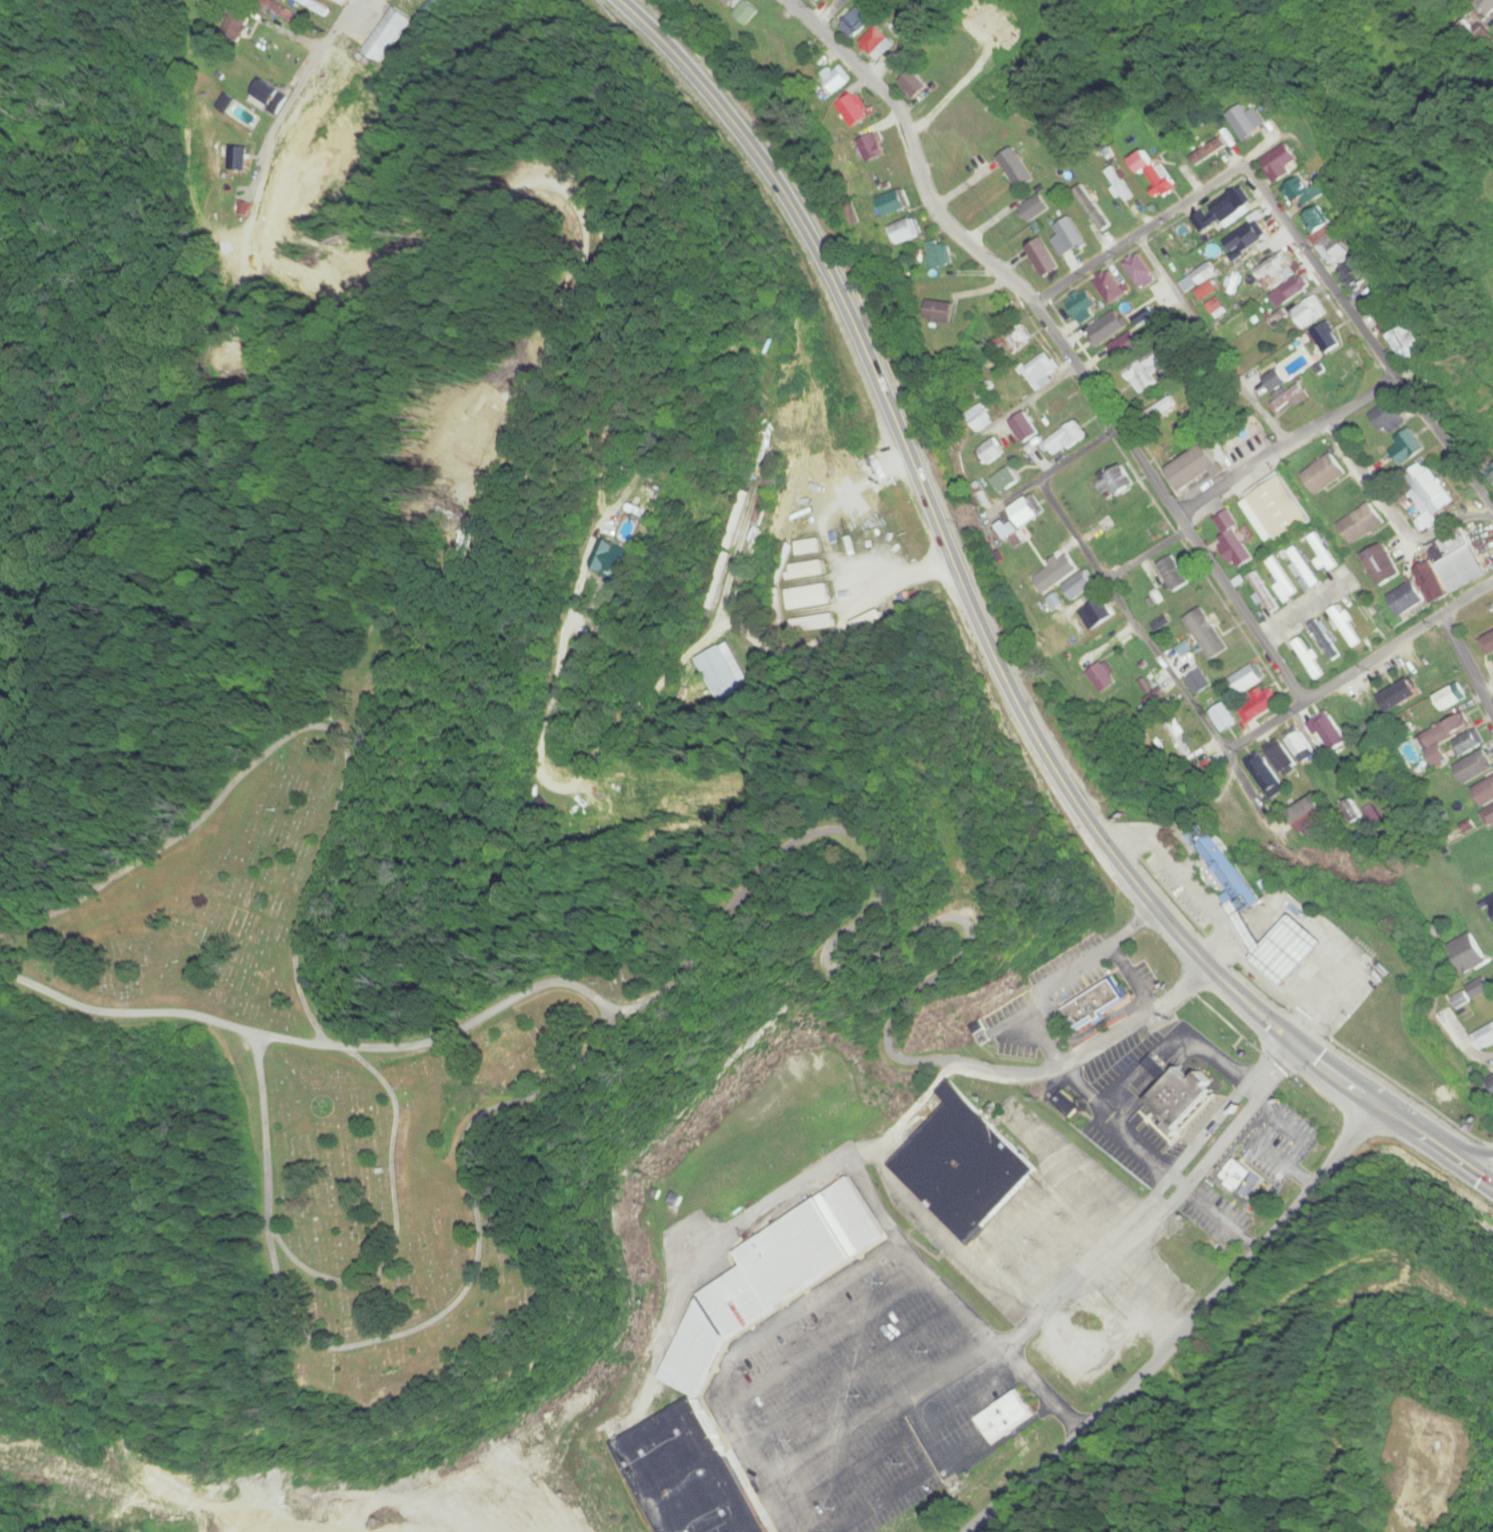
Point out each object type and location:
building: (1486, 5)
building: (855, 23)
building: (386, 34)
building: (877, 44)
building: (281, 56)
building: (913, 85)
road: (300, 89)
building: (269, 92)
building: (1248, 120)
building: (1206, 146)
building: (1281, 163)
building: (1016, 168)
building: (1156, 173)
building: (1120, 184)
building: (1295, 192)
building: (1035, 208)
building: (1224, 212)
building: (1320, 223)
building: (901, 232)
road: (1140, 235)
building: (1068, 236)
building: (1248, 237)
building: (1044, 258)
building: (1278, 270)
building: (1143, 271)
building: (1353, 273)
building: (1200, 278)
building: (1114, 286)
building: (1290, 293)
building: (1085, 300)
building: (1311, 313)
building: (1110, 329)
road: (1370, 335)
building: (1331, 337)
building: (1019, 338)
road: (1059, 340)
road: (1210, 343)
building: (1406, 343)
building: (1127, 346)
building: (1041, 369)
building: (1152, 372)
road: (1035, 396)
building: (1293, 400)
building: (1057, 406)
building: (979, 418)
building: (1389, 418)
building: (1024, 428)
building: (1241, 433)
building: (1064, 439)
road: (1287, 444)
building: (1408, 447)
building: (991, 451)
road: (1079, 455)
building: (1194, 467)
building: (1491, 471)
building: (1324, 474)
building: (1006, 479)
building: (1113, 485)
building: (1434, 491)
road: (1013, 499)
building: (1276, 511)
building: (1027, 512)
road: (1389, 519)
building: (1360, 523)
building: (1005, 531)
building: (1235, 542)
building: (809, 548)
building: (1325, 552)
road: (1148, 557)
building: (613, 559)
building: (1457, 561)
building: (1381, 565)
building: (1306, 567)
building: (806, 570)
building: (1056, 574)
building: (1175, 575)
building: (1284, 580)
building: (1429, 584)
building: (1079, 585)
building: (1265, 593)
building: (807, 597)
building: (1408, 598)
building: (1367, 612)
road: (1301, 615)
building: (1090, 616)
building: (869, 621)
building: (810, 624)
building: (1347, 626)
building: (1327, 640)
building: (1211, 642)
road: (989, 644)
building: (1488, 644)
building: (1309, 658)
road: (1466, 660)
road: (1160, 661)
building: (725, 672)
building: (1101, 677)
road: (1349, 677)
building: (1247, 679)
building: (1198, 680)
building: (1401, 695)
building: (1451, 697)
building: (1260, 708)
building: (1225, 717)
building: (1331, 731)
building: (1444, 736)
building: (1178, 739)
building: (1468, 743)
building: (1301, 744)
building: (1282, 761)
building: (1475, 767)
building: (1266, 774)
building: (1485, 792)
building: (1312, 816)
building: (1489, 816)
road: (792, 845)
building: (1235, 889)
building: (1492, 908)
building: (1468, 952)
building: (1478, 989)
building: (1093, 1004)
traffic signals: (1290, 1035)
building: (1484, 1038)
road: (1470, 1045)
traffic signals: (1307, 1049)
park: (329, 1071)
building: (1490, 1085)
building: (1179, 1094)
building: (966, 1165)
building: (1242, 1178)
road: (1150, 1199)
road: (1169, 1208)
road: (948, 1293)
road: (1188, 1332)
building: (696, 1355)
building: (1004, 1418)
road: (799, 1455)
road: (914, 1481)
road: (774, 1499)

